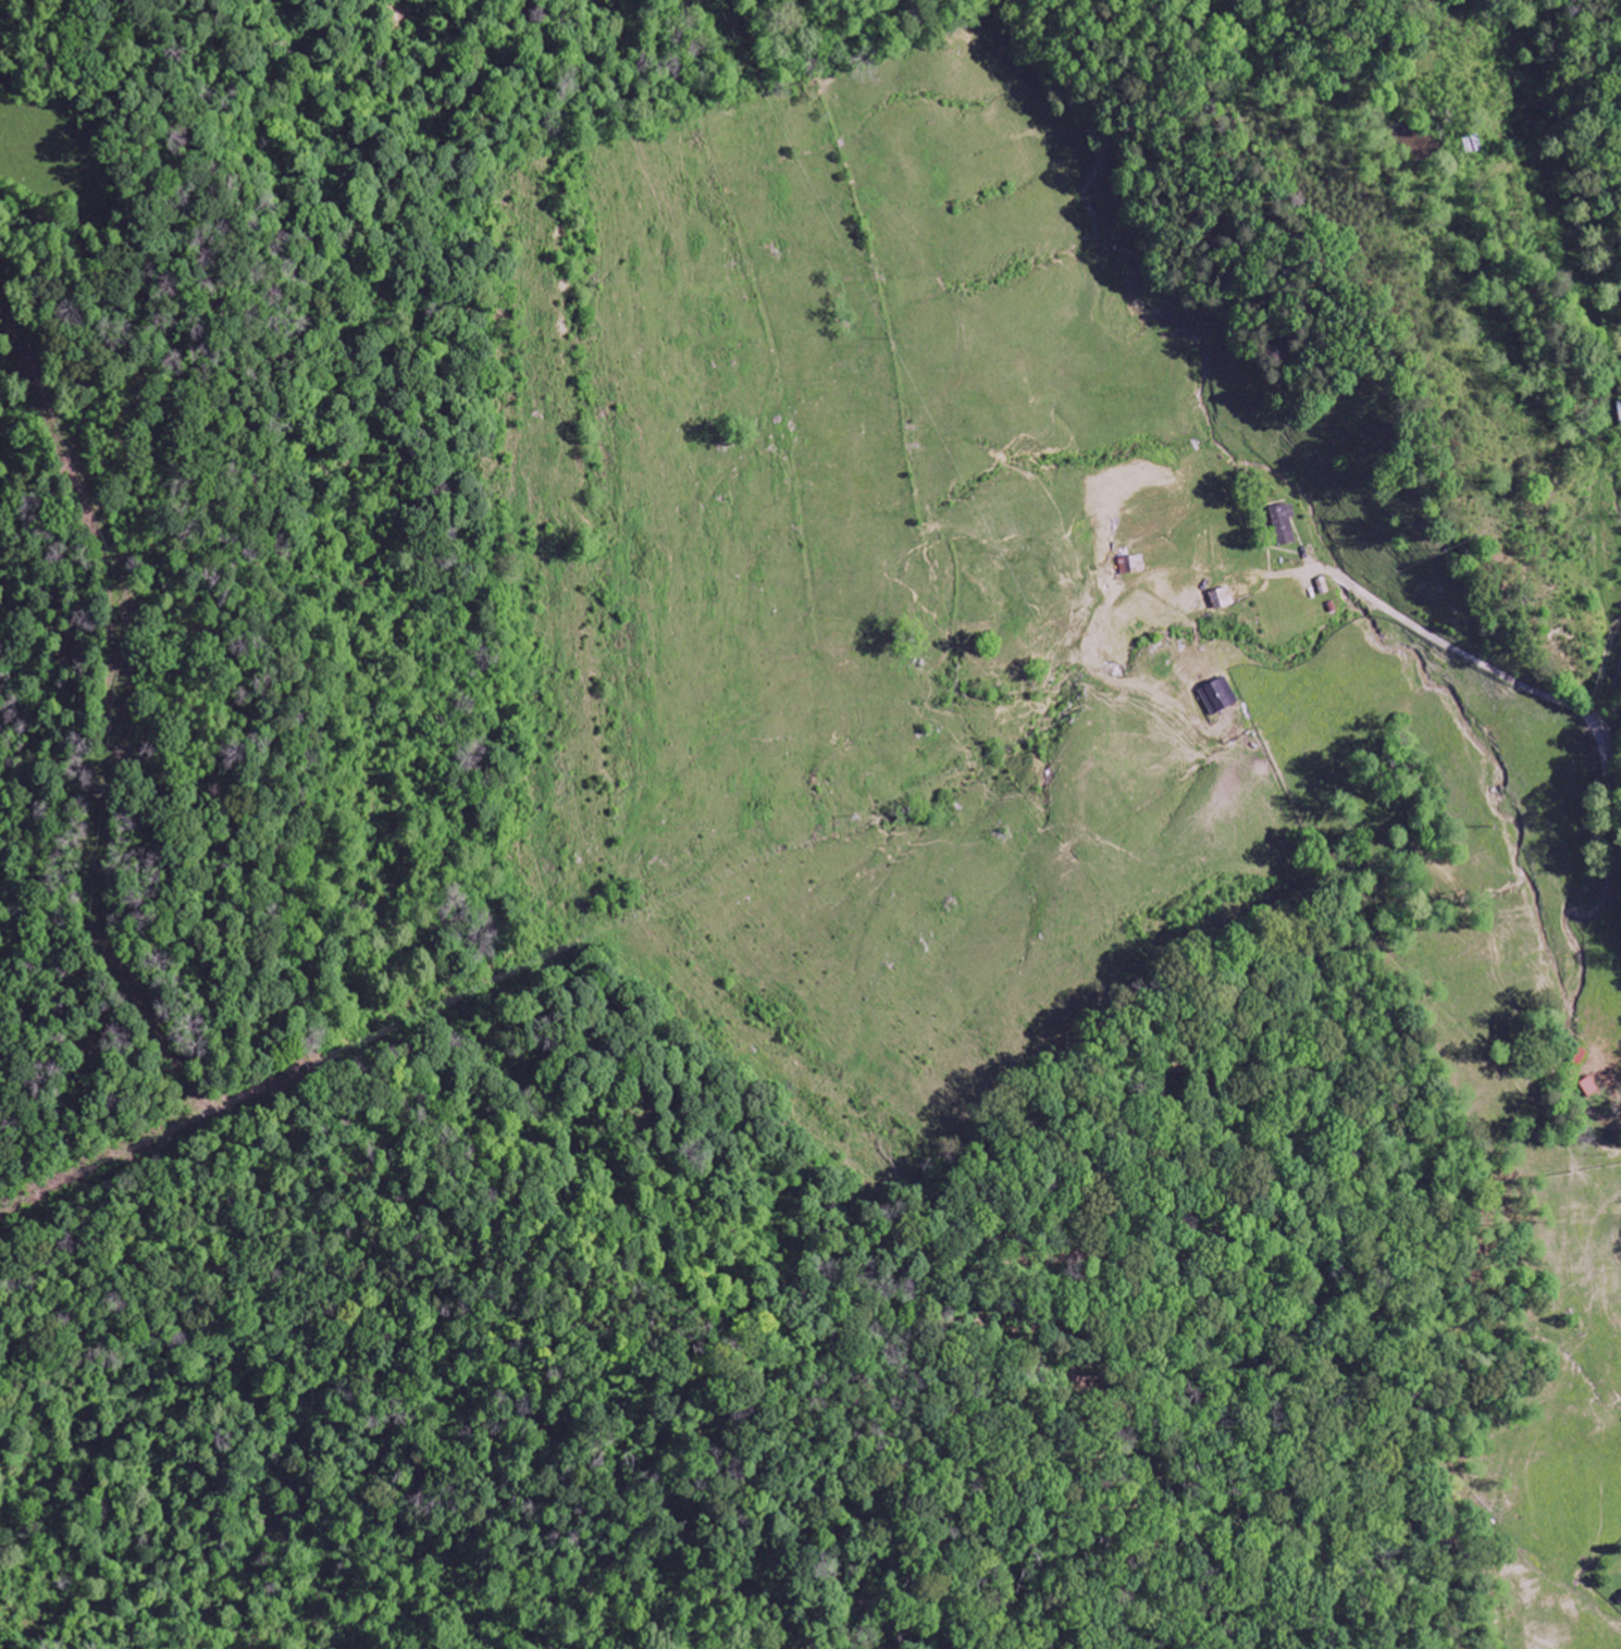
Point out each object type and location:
building: (1284, 525)
building: (1133, 566)
road: (1510, 682)
building: (1220, 697)
road: (117, 744)

